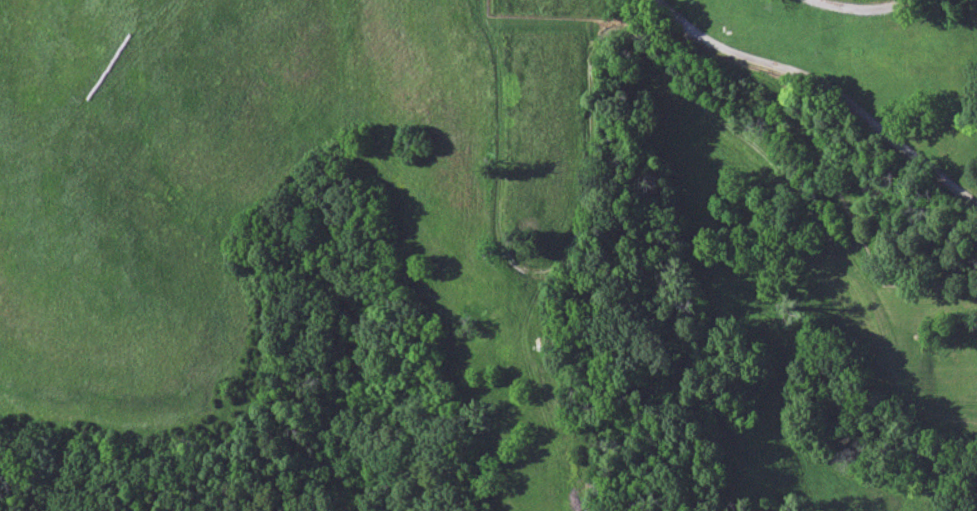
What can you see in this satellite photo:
road: (859, 10)
road: (824, 87)
park: (855, 107)

